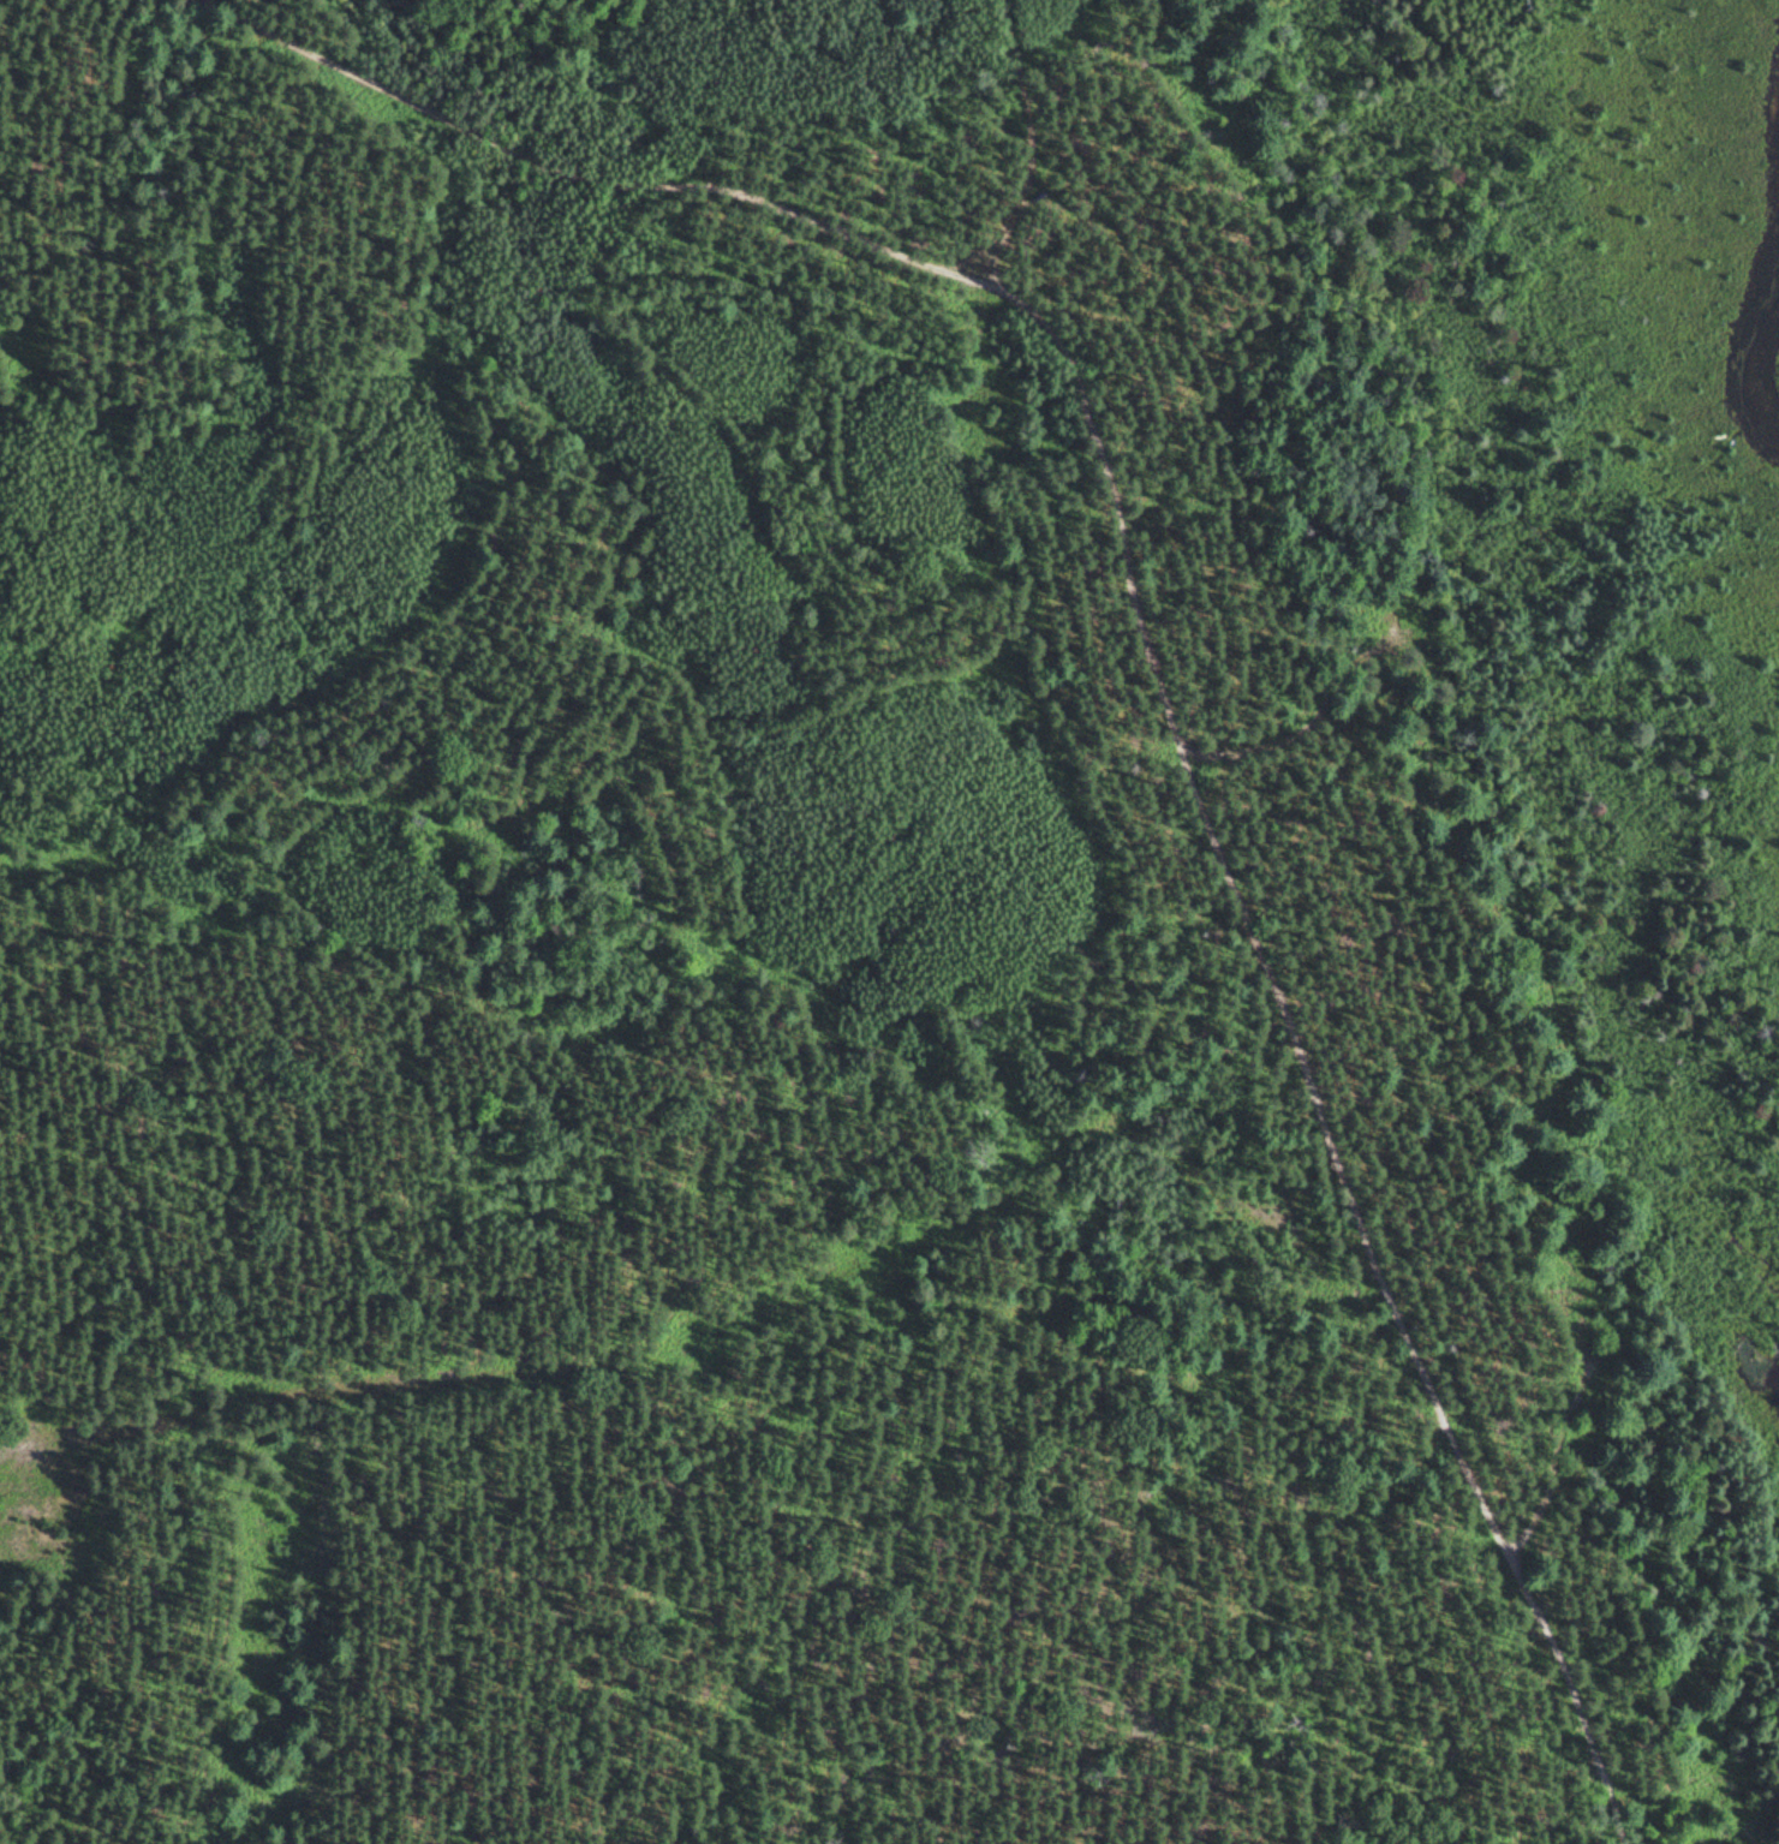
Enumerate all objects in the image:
road: (1144, 666)

